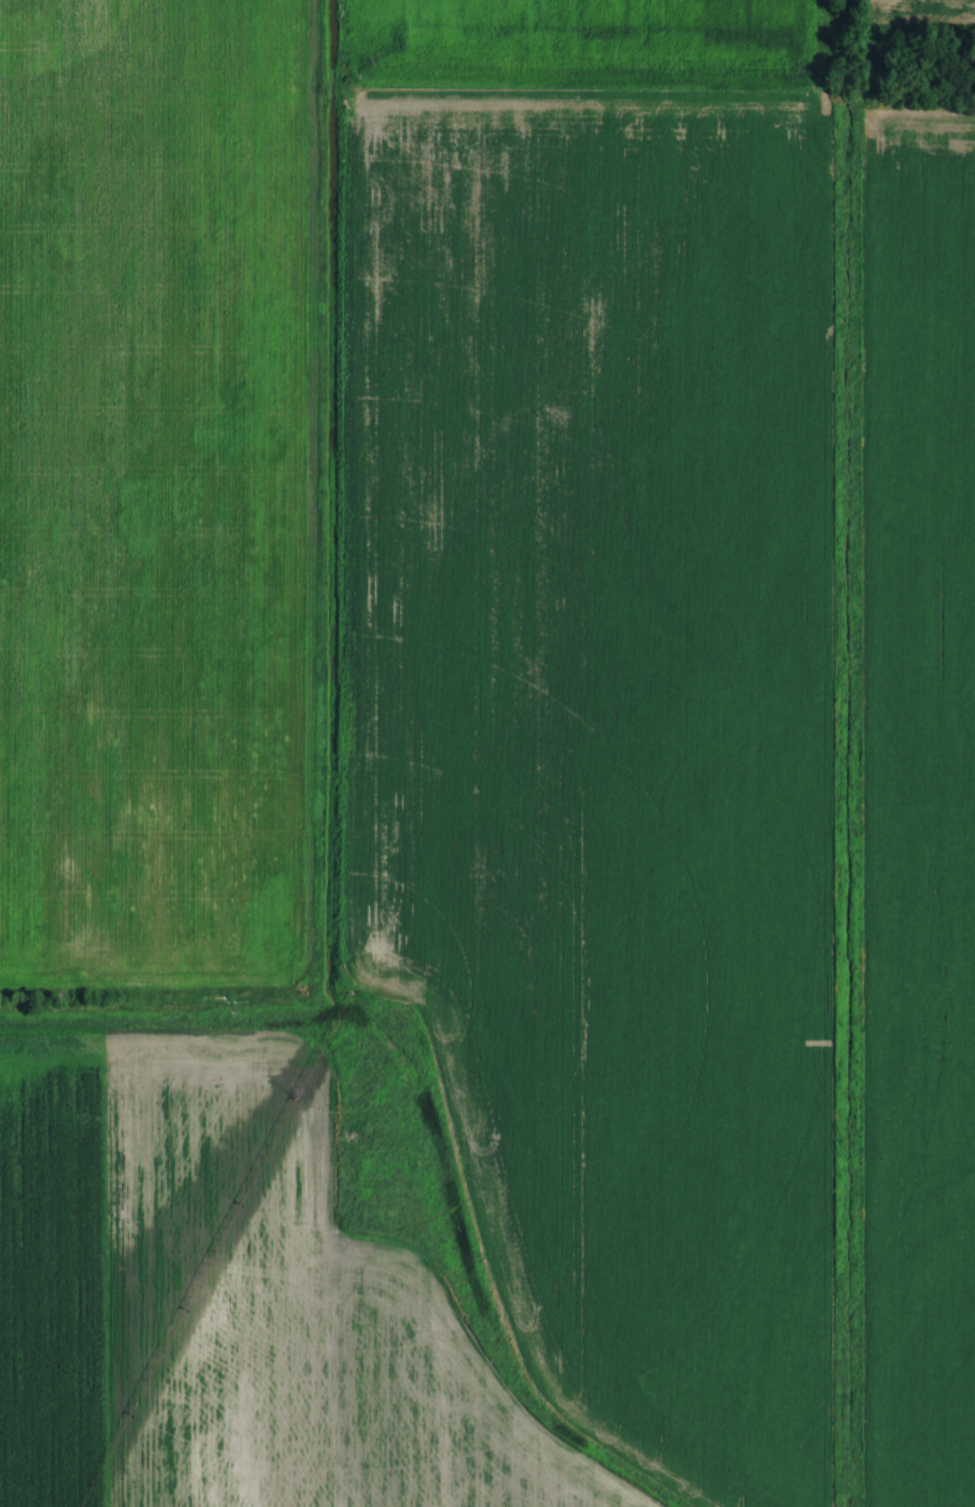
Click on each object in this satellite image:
river: (845, 753)

